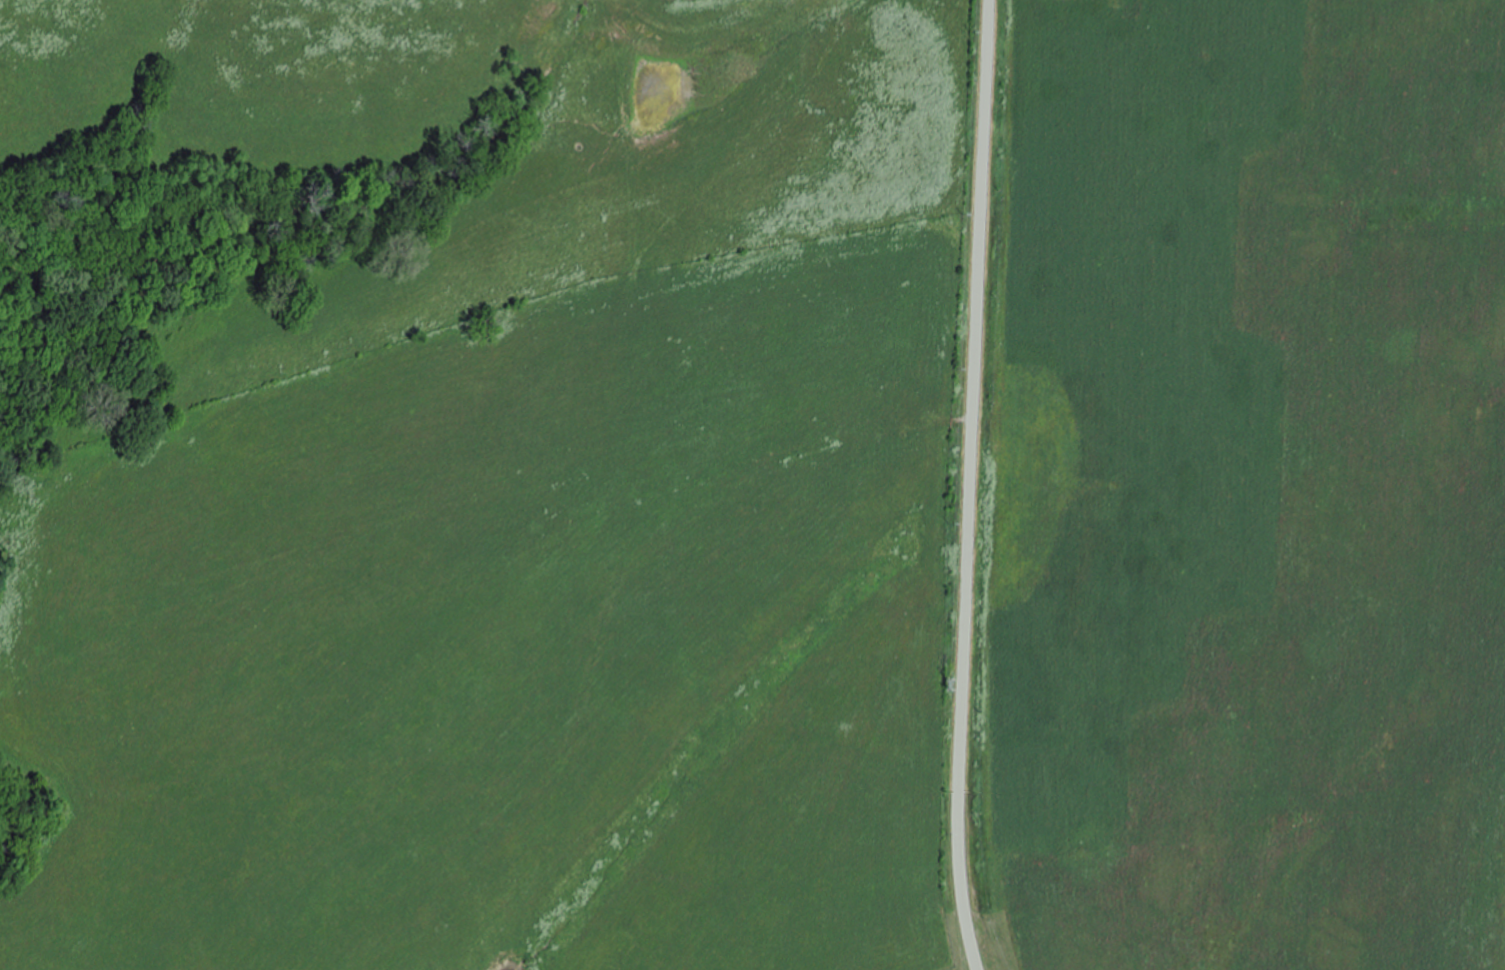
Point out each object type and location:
road: (970, 485)

